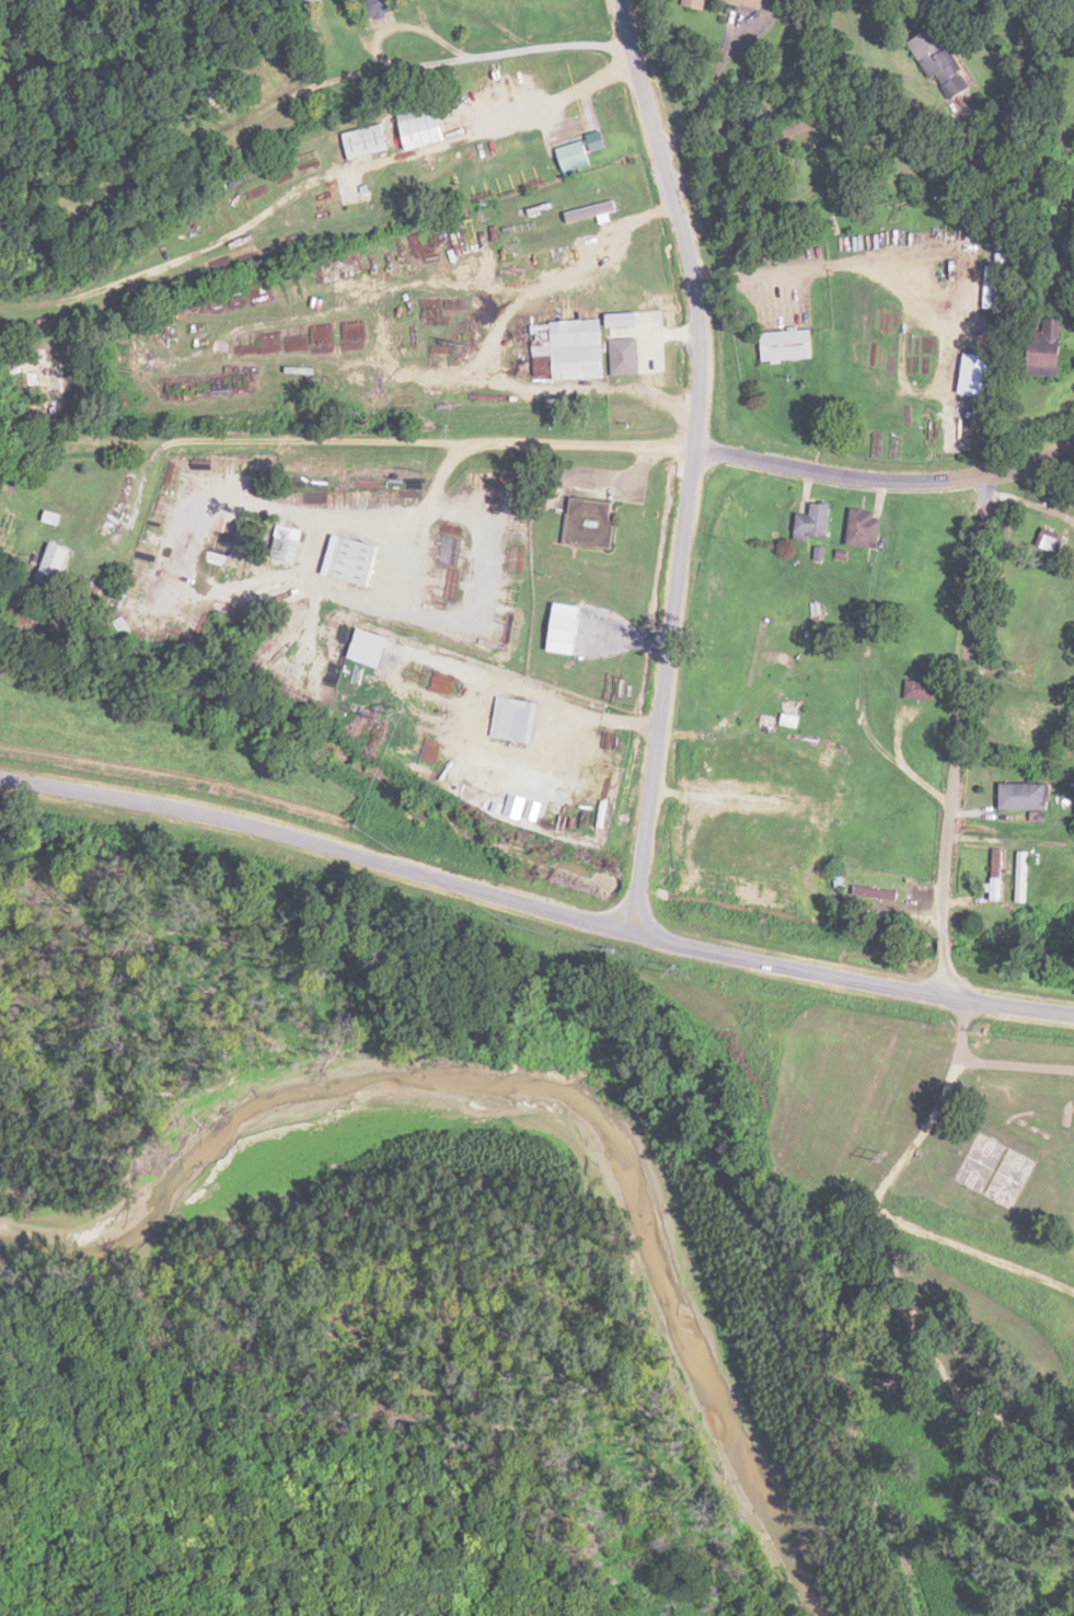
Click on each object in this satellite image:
building: (747, 2)
building: (697, 3)
building: (308, 5)
building: (374, 8)
building: (936, 57)
building: (421, 123)
building: (362, 141)
building: (574, 157)
building: (246, 255)
building: (996, 277)
building: (1049, 344)
building: (786, 345)
building: (570, 347)
building: (975, 378)
road: (379, 439)
road: (692, 461)
road: (885, 480)
building: (813, 521)
building: (587, 523)
building: (863, 528)
building: (1051, 539)
building: (355, 561)
building: (56, 564)
building: (441, 581)
building: (920, 690)
building: (517, 719)
road: (957, 735)
building: (1024, 796)
building: (515, 806)
building: (819, 812)
building: (995, 875)
building: (1020, 877)
building: (836, 880)
road: (534, 902)
river: (320, 1148)
park: (970, 1162)
park: (1001, 1178)
park: (938, 1286)
river: (753, 1395)

